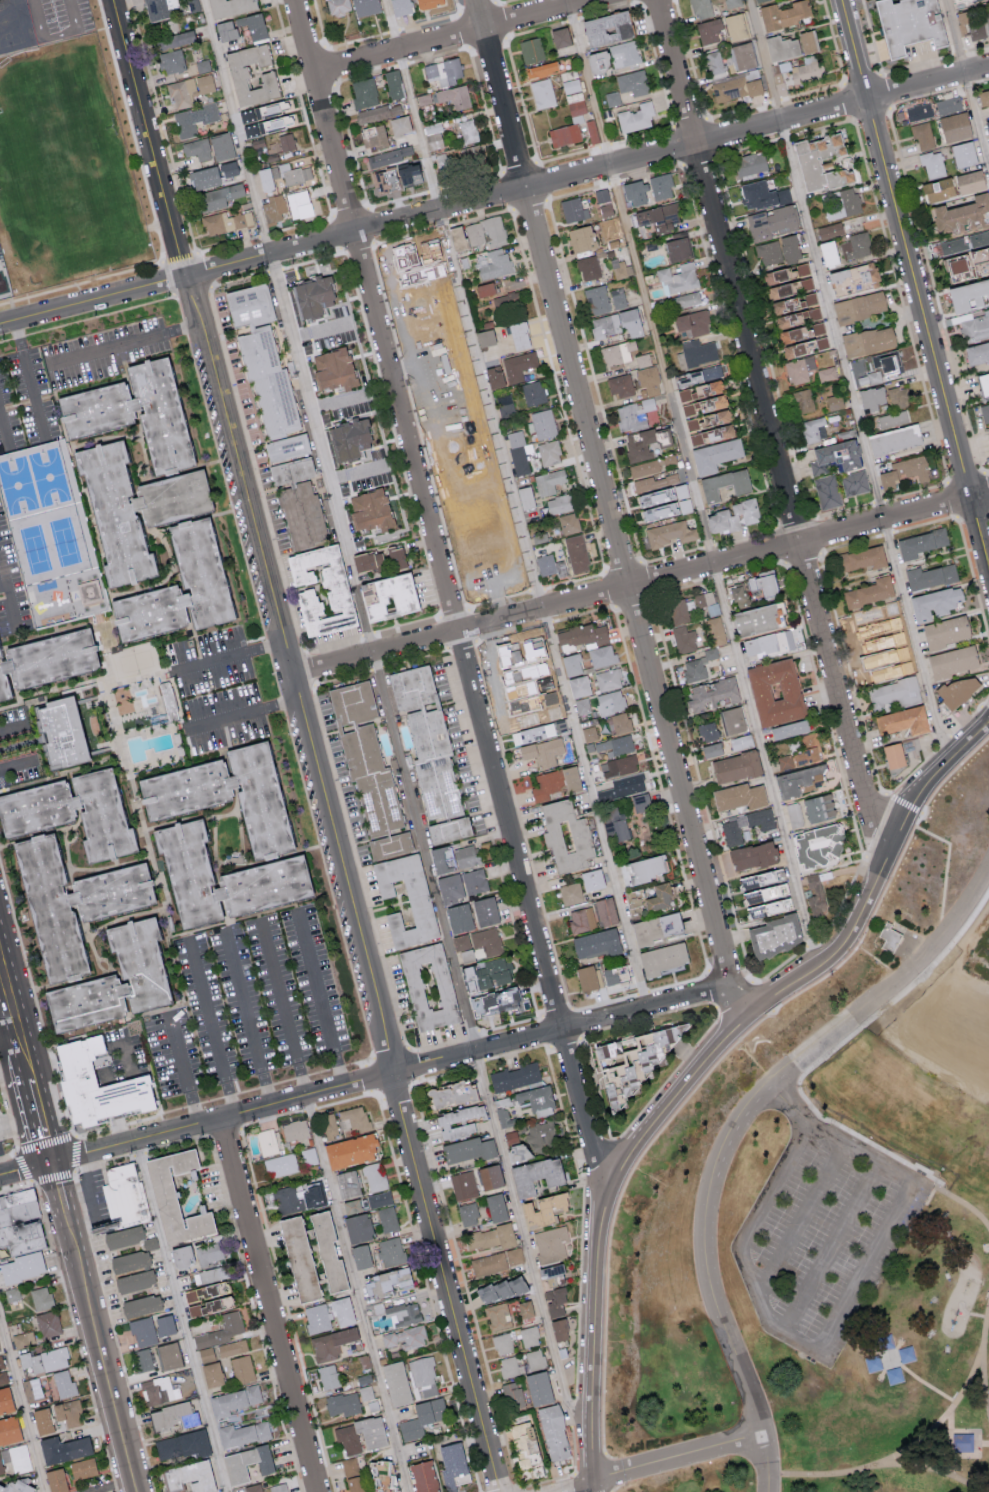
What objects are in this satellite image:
building: (758, 0)
building: (962, 1)
building: (428, 3)
building: (732, 3)
building: (229, 6)
building: (337, 6)
building: (365, 7)
building: (400, 7)
building: (159, 8)
building: (701, 8)
building: (784, 13)
parking lot: (57, 19)
building: (988, 19)
building: (907, 23)
building: (253, 26)
building: (734, 26)
building: (606, 27)
building: (225, 29)
building: (978, 29)
building: (708, 30)
building: (559, 36)
road: (452, 37)
road: (953, 37)
road: (54, 38)
building: (175, 39)
building: (807, 41)
building: (780, 47)
building: (530, 49)
building: (625, 53)
building: (742, 55)
building: (597, 60)
building: (172, 61)
building: (714, 63)
building: (202, 65)
building: (540, 68)
building: (779, 68)
building: (808, 68)
building: (443, 72)
building: (569, 74)
building: (238, 79)
building: (633, 82)
building: (394, 83)
building: (571, 85)
building: (736, 86)
building: (188, 89)
building: (364, 92)
building: (542, 93)
building: (455, 96)
building: (983, 96)
building: (612, 98)
building: (948, 104)
building: (919, 111)
building: (266, 117)
building: (636, 117)
building: (193, 118)
road: (976, 123)
building: (399, 124)
building: (568, 126)
building: (954, 126)
building: (987, 126)
building: (592, 130)
building: (468, 131)
building: (922, 134)
building: (433, 135)
building: (373, 136)
building: (286, 141)
building: (221, 145)
building: (197, 148)
building: (963, 153)
building: (390, 155)
building: (469, 158)
building: (808, 162)
building: (749, 164)
building: (933, 164)
park: (64, 168)
building: (291, 173)
building: (211, 174)
building: (265, 178)
building: (384, 180)
building: (969, 181)
building: (661, 185)
building: (937, 189)
building: (634, 191)
building: (601, 194)
building: (761, 194)
building: (219, 196)
road: (494, 196)
building: (844, 203)
building: (299, 204)
building: (572, 208)
building: (273, 209)
building: (606, 209)
building: (962, 213)
building: (657, 217)
building: (226, 221)
building: (829, 230)
building: (494, 231)
building: (475, 233)
building: (457, 238)
building: (581, 238)
building: (856, 245)
building: (953, 245)
building: (789, 247)
building: (676, 248)
building: (769, 252)
building: (828, 252)
building: (494, 263)
building: (967, 263)
building: (588, 267)
building: (620, 268)
building: (418, 270)
building: (785, 273)
building: (853, 277)
building: (678, 278)
building: (782, 288)
road: (915, 288)
building: (484, 289)
building: (968, 294)
building: (313, 296)
building: (603, 299)
building: (686, 300)
building: (791, 303)
building: (858, 306)
building: (815, 312)
building: (788, 319)
building: (691, 323)
building: (616, 324)
building: (818, 327)
building: (974, 327)
building: (518, 334)
building: (485, 337)
building: (868, 340)
building: (800, 341)
road: (124, 343)
building: (617, 352)
building: (696, 352)
building: (977, 352)
building: (262, 358)
building: (643, 360)
building: (518, 365)
building: (881, 367)
building: (333, 368)
building: (799, 369)
building: (443, 373)
building: (826, 373)
building: (700, 374)
building: (496, 377)
road: (28, 378)
building: (648, 380)
road: (846, 381)
building: (984, 382)
building: (621, 385)
building: (533, 392)
building: (898, 396)
building: (702, 397)
building: (871, 397)
building: (803, 400)
building: (834, 402)
building: (505, 404)
building: (985, 412)
building: (139, 413)
building: (634, 414)
building: (892, 418)
building: (542, 423)
road: (3, 426)
building: (712, 427)
road: (768, 427)
building: (814, 429)
building: (349, 438)
building: (894, 438)
building: (639, 444)
building: (286, 447)
building: (519, 451)
building: (549, 452)
building: (714, 455)
building: (835, 456)
building: (667, 459)
building: (644, 468)
building: (904, 471)
park: (50, 477)
building: (548, 481)
building: (655, 482)
building: (724, 483)
building: (854, 483)
road: (694, 485)
park: (18, 486)
building: (827, 491)
building: (525, 497)
building: (298, 501)
road: (517, 503)
building: (558, 503)
building: (138, 509)
building: (370, 509)
road: (608, 509)
building: (733, 516)
building: (568, 523)
building: (669, 533)
park: (66, 540)
building: (920, 542)
park: (34, 549)
building: (576, 552)
building: (203, 557)
building: (861, 558)
building: (378, 559)
building: (491, 559)
building: (550, 565)
building: (930, 575)
building: (762, 583)
road: (638, 585)
building: (334, 589)
building: (88, 591)
building: (869, 592)
building: (737, 594)
road: (450, 595)
building: (386, 596)
road: (11, 601)
building: (707, 602)
building: (933, 602)
building: (690, 603)
building: (678, 611)
building: (753, 619)
building: (875, 620)
building: (715, 630)
building: (945, 631)
building: (582, 636)
building: (684, 639)
building: (766, 643)
road: (227, 655)
building: (602, 656)
building: (45, 660)
building: (951, 661)
park: (134, 662)
building: (887, 663)
building: (571, 664)
building: (698, 665)
building: (608, 679)
building: (578, 686)
building: (956, 690)
building: (774, 691)
building: (895, 692)
building: (711, 693)
building: (169, 700)
building: (610, 701)
building: (351, 702)
building: (582, 706)
road: (241, 715)
road: (387, 718)
building: (732, 720)
building: (902, 720)
building: (620, 722)
building: (798, 727)
road: (13, 729)
building: (707, 731)
building: (532, 733)
building: (589, 733)
building: (62, 734)
building: (426, 739)
building: (740, 742)
building: (612, 745)
road: (306, 746)
building: (711, 749)
building: (542, 751)
building: (802, 752)
building: (892, 755)
road: (16, 763)
building: (618, 766)
building: (735, 766)
building: (799, 780)
building: (371, 782)
building: (554, 782)
building: (623, 787)
building: (225, 795)
building: (738, 796)
building: (640, 801)
building: (818, 807)
building: (71, 812)
building: (794, 814)
building: (761, 818)
building: (616, 824)
building: (448, 830)
building: (731, 832)
building: (565, 836)
building: (817, 844)
building: (389, 845)
building: (752, 855)
building: (453, 858)
building: (642, 869)
building: (222, 878)
building: (761, 878)
building: (591, 879)
building: (474, 881)
building: (450, 888)
building: (570, 893)
building: (764, 893)
building: (815, 895)
building: (658, 897)
building: (632, 898)
building: (70, 903)
building: (419, 904)
building: (769, 908)
building: (484, 911)
building: (605, 911)
building: (459, 918)
building: (579, 919)
building: (654, 928)
building: (773, 936)
building: (890, 937)
building: (486, 941)
building: (596, 943)
building: (462, 947)
building: (661, 959)
building: (138, 964)
building: (612, 974)
building: (486, 975)
building: (585, 978)
road: (894, 984)
building: (428, 986)
road: (321, 999)
road: (10, 1001)
building: (492, 1002)
road: (283, 1009)
road: (247, 1019)
road: (7, 1023)
road: (211, 1028)
road: (21, 1044)
road: (178, 1051)
road: (25, 1061)
building: (628, 1061)
road: (696, 1064)
road: (239, 1072)
road: (14, 1076)
building: (514, 1077)
road: (363, 1082)
building: (94, 1086)
building: (450, 1095)
building: (535, 1101)
road: (9, 1113)
building: (355, 1117)
road: (40, 1118)
building: (505, 1118)
building: (459, 1121)
building: (328, 1125)
building: (5, 1126)
building: (295, 1131)
building: (530, 1140)
building: (267, 1141)
road: (842, 1142)
building: (467, 1149)
building: (352, 1153)
road: (8, 1156)
traffic signals: (52, 1163)
road: (25, 1166)
building: (281, 1166)
building: (489, 1174)
building: (375, 1176)
building: (538, 1178)
building: (347, 1182)
building: (463, 1184)
road: (58, 1186)
road: (17, 1187)
building: (128, 1192)
building: (173, 1195)
building: (310, 1197)
building: (379, 1199)
road: (956, 1202)
building: (18, 1203)
building: (495, 1206)
building: (353, 1208)
building: (543, 1208)
building: (0, 1213)
building: (467, 1213)
building: (387, 1218)
road: (804, 1219)
building: (18, 1220)
building: (358, 1226)
road: (70, 1234)
building: (122, 1235)
building: (489, 1236)
parking lot: (826, 1237)
building: (149, 1242)
building: (22, 1243)
building: (550, 1243)
building: (326, 1250)
building: (391, 1251)
road: (836, 1251)
building: (180, 1254)
building: (360, 1255)
building: (297, 1256)
building: (128, 1260)
building: (497, 1260)
building: (210, 1262)
building: (22, 1266)
building: (549, 1269)
park: (798, 1269)
building: (134, 1280)
building: (388, 1280)
road: (710, 1282)
building: (501, 1287)
road: (356, 1294)
building: (40, 1297)
building: (207, 1297)
building: (555, 1300)
building: (141, 1304)
road: (271, 1306)
building: (378, 1308)
building: (525, 1310)
building: (403, 1312)
building: (344, 1313)
building: (498, 1315)
road: (181, 1317)
building: (318, 1320)
building: (48, 1323)
building: (164, 1324)
building: (558, 1328)
building: (221, 1329)
building: (143, 1331)
road: (784, 1332)
road: (76, 1336)
building: (529, 1336)
building: (22, 1338)
building: (407, 1339)
building: (502, 1343)
building: (332, 1346)
building: (232, 1347)
building: (206, 1354)
building: (44, 1359)
building: (142, 1359)
building: (535, 1359)
road: (986, 1361)
building: (1, 1362)
building: (509, 1366)
building: (243, 1368)
building: (211, 1373)
road: (107, 1374)
building: (328, 1376)
building: (423, 1376)
building: (3, 1377)
building: (395, 1382)
building: (64, 1383)
building: (32, 1389)
building: (159, 1389)
building: (540, 1389)
building: (365, 1392)
building: (512, 1394)
building: (5, 1399)
building: (233, 1399)
building: (344, 1405)
road: (21, 1406)
building: (67, 1412)
building: (173, 1415)
building: (422, 1417)
building: (41, 1420)
building: (9, 1429)
building: (552, 1431)
building: (371, 1432)
building: (242, 1433)
building: (349, 1441)
building: (964, 1443)
building: (183, 1444)
building: (523, 1444)
building: (63, 1448)
building: (15, 1458)
road: (679, 1460)
building: (246, 1462)
building: (452, 1464)
building: (82, 1467)
building: (352, 1474)
building: (383, 1475)
building: (189, 1476)
building: (423, 1476)
building: (55, 1479)
building: (253, 1487)
building: (279, 1487)
road: (579, 1487)

